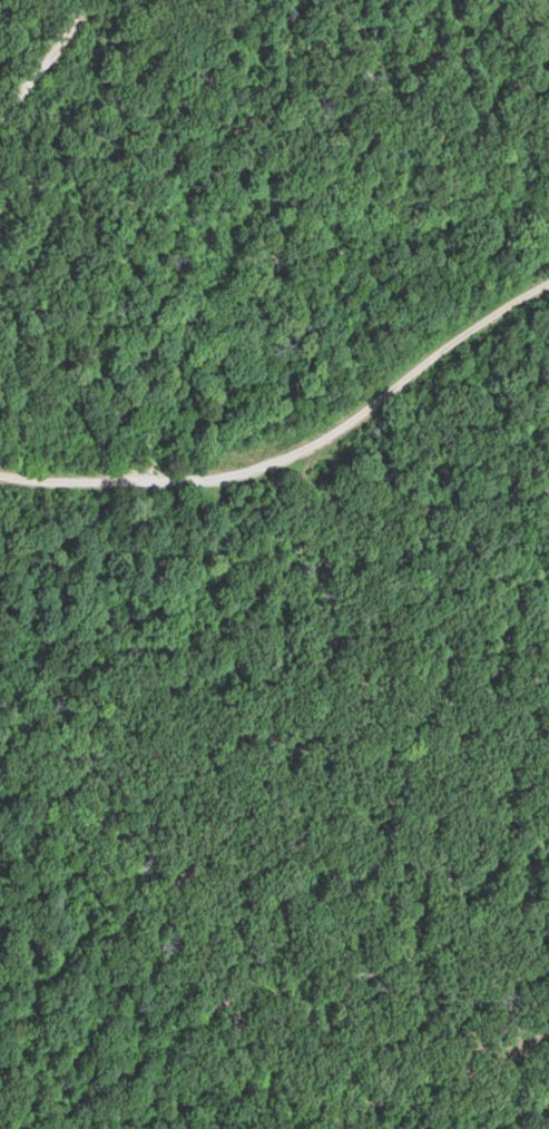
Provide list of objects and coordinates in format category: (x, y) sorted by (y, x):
road: (56, 96)
road: (296, 449)

